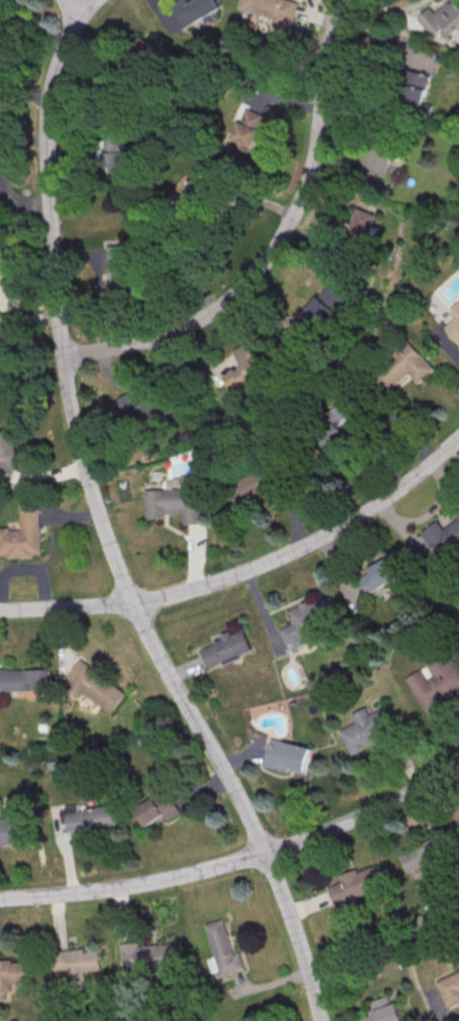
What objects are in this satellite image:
road: (80, 7)
road: (92, 7)
building: (196, 10)
building: (274, 10)
building: (443, 19)
building: (144, 46)
building: (417, 86)
building: (247, 129)
building: (117, 156)
building: (376, 161)
building: (195, 190)
building: (361, 225)
road: (276, 240)
building: (122, 266)
building: (322, 307)
building: (454, 323)
building: (2, 361)
building: (404, 367)
building: (244, 370)
building: (144, 408)
building: (337, 412)
building: (9, 452)
building: (252, 483)
building: (177, 500)
road: (105, 533)
building: (23, 534)
building: (443, 537)
road: (249, 570)
building: (378, 576)
building: (305, 620)
building: (226, 648)
building: (24, 679)
building: (435, 681)
building: (93, 686)
building: (367, 728)
building: (287, 756)
building: (157, 808)
building: (89, 817)
building: (10, 830)
building: (420, 855)
road: (237, 860)
building: (355, 884)
building: (223, 948)
building: (147, 955)
building: (77, 962)
building: (12, 976)
building: (450, 988)
building: (384, 1011)

